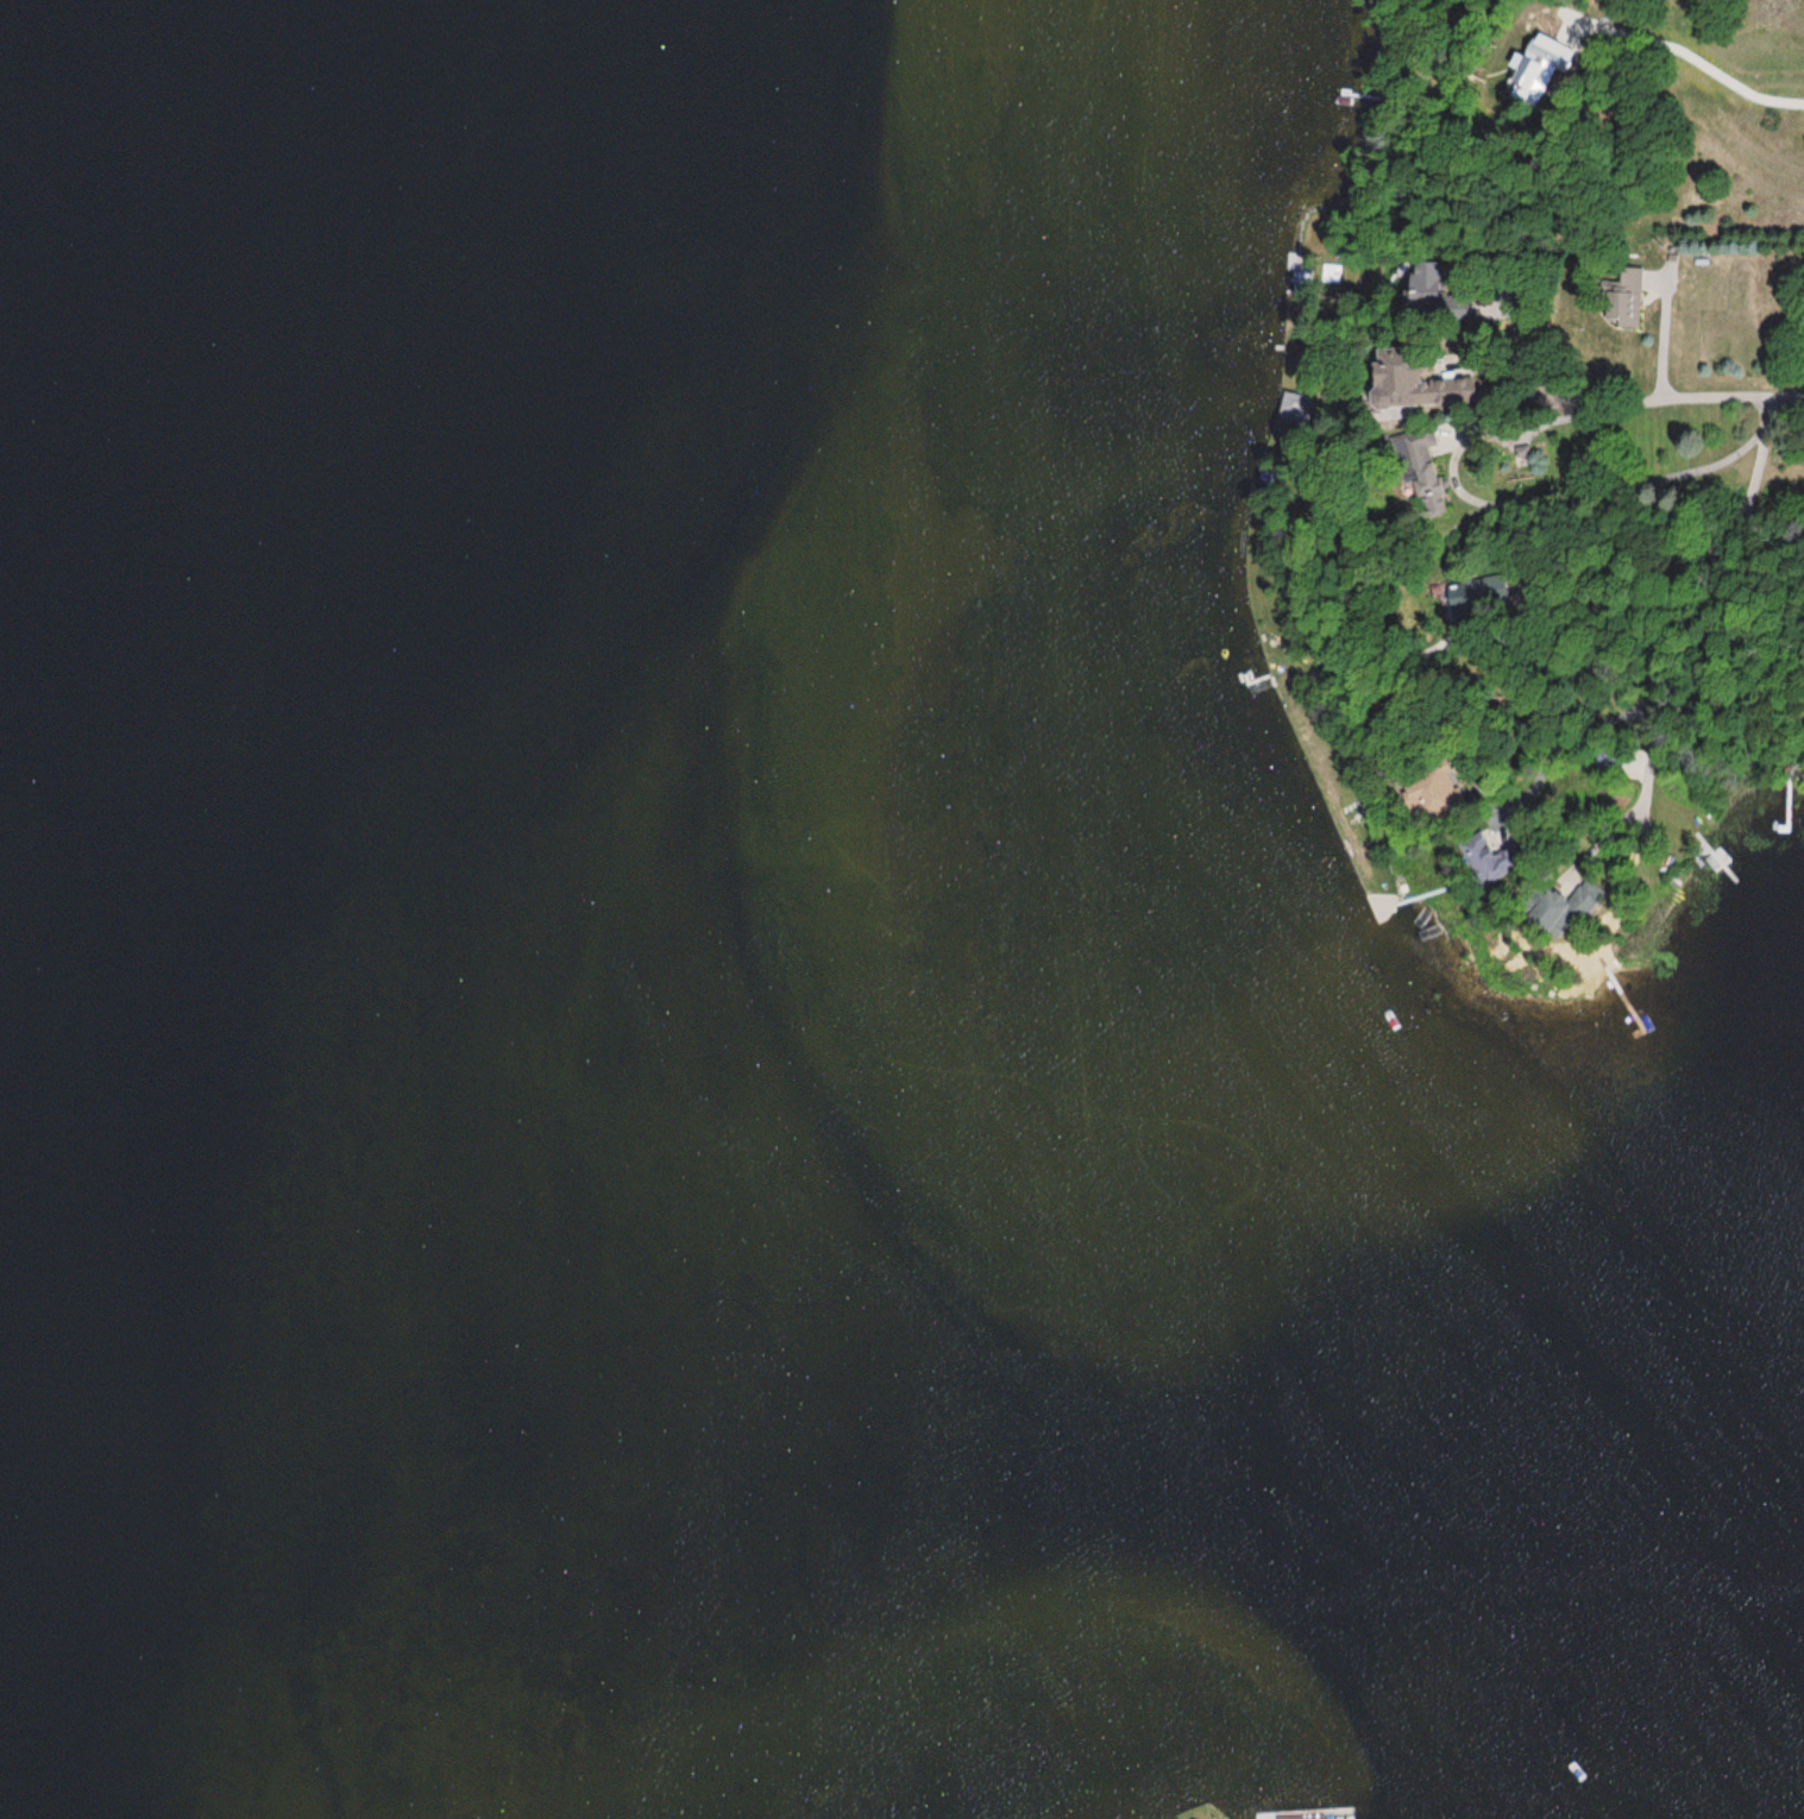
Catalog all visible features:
building: (1621, 308)
building: (1410, 384)
building: (1416, 452)
building: (1488, 861)

